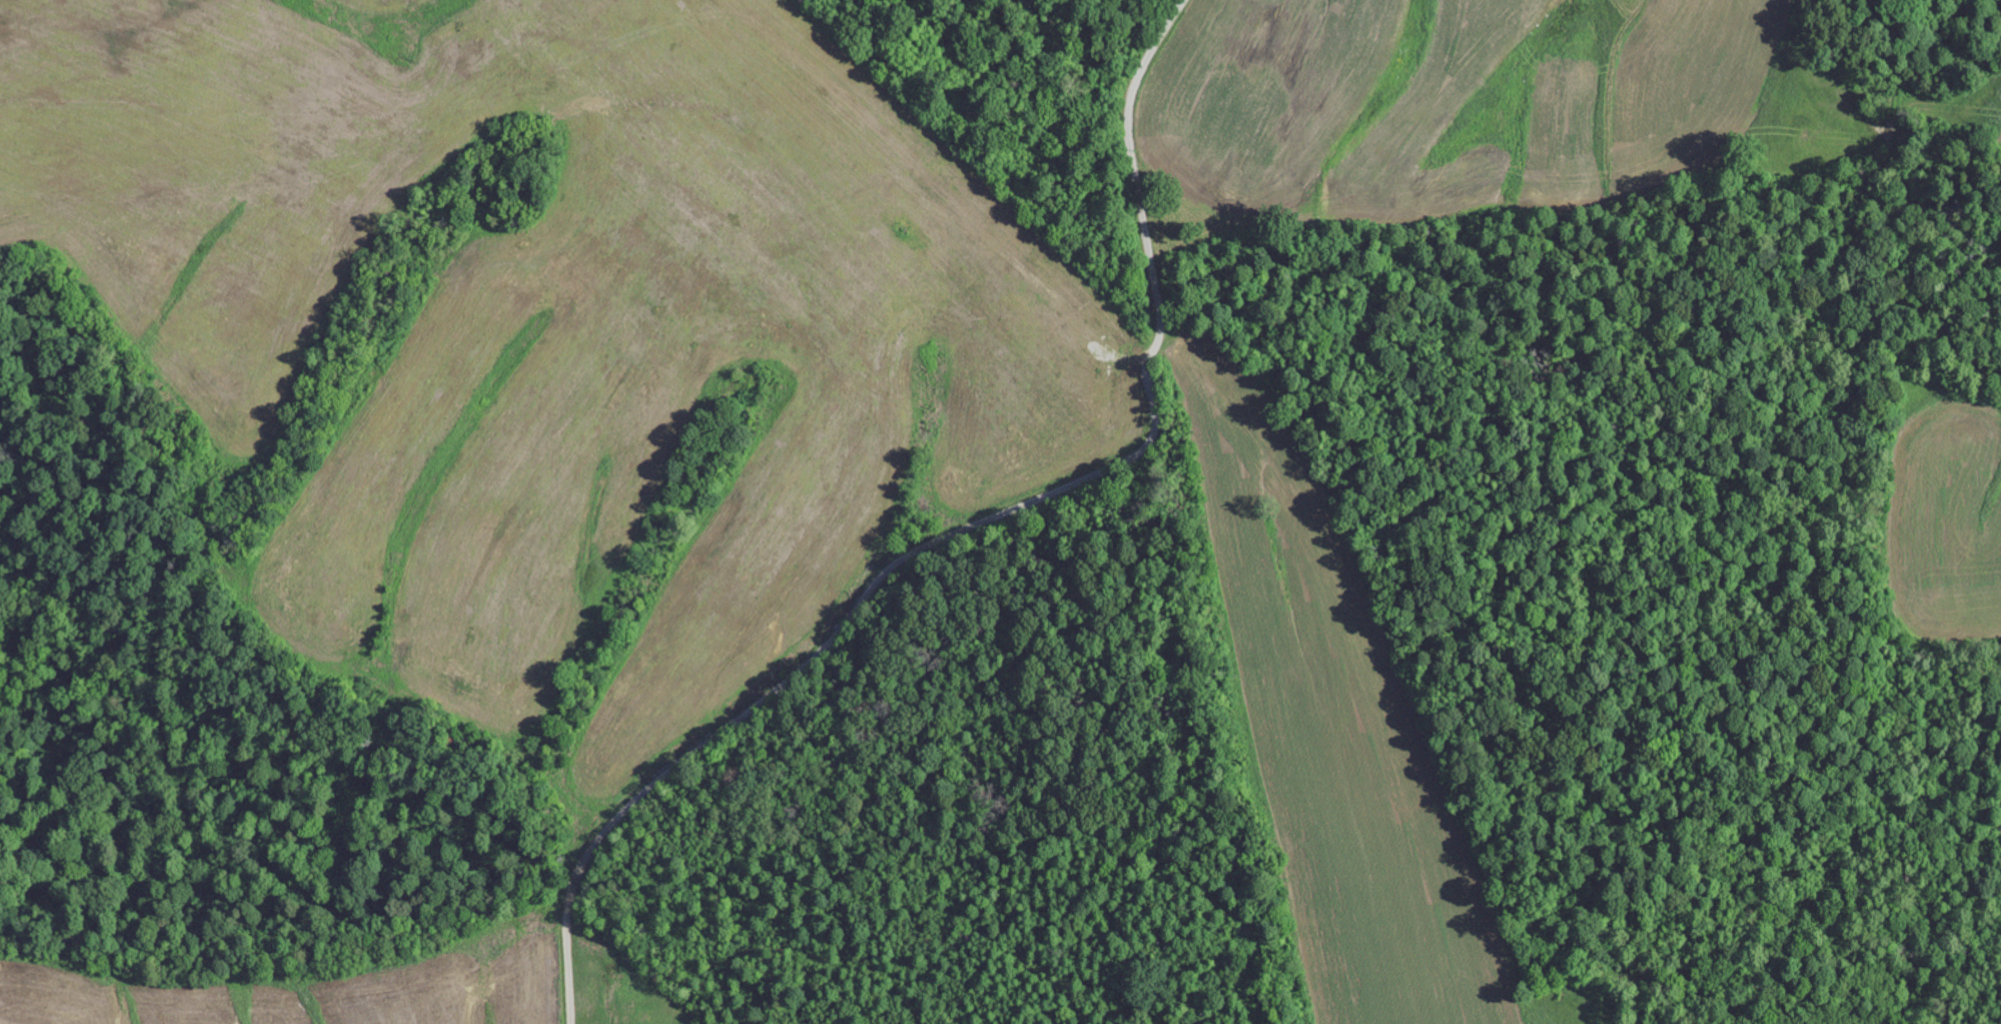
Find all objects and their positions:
road: (951, 534)

